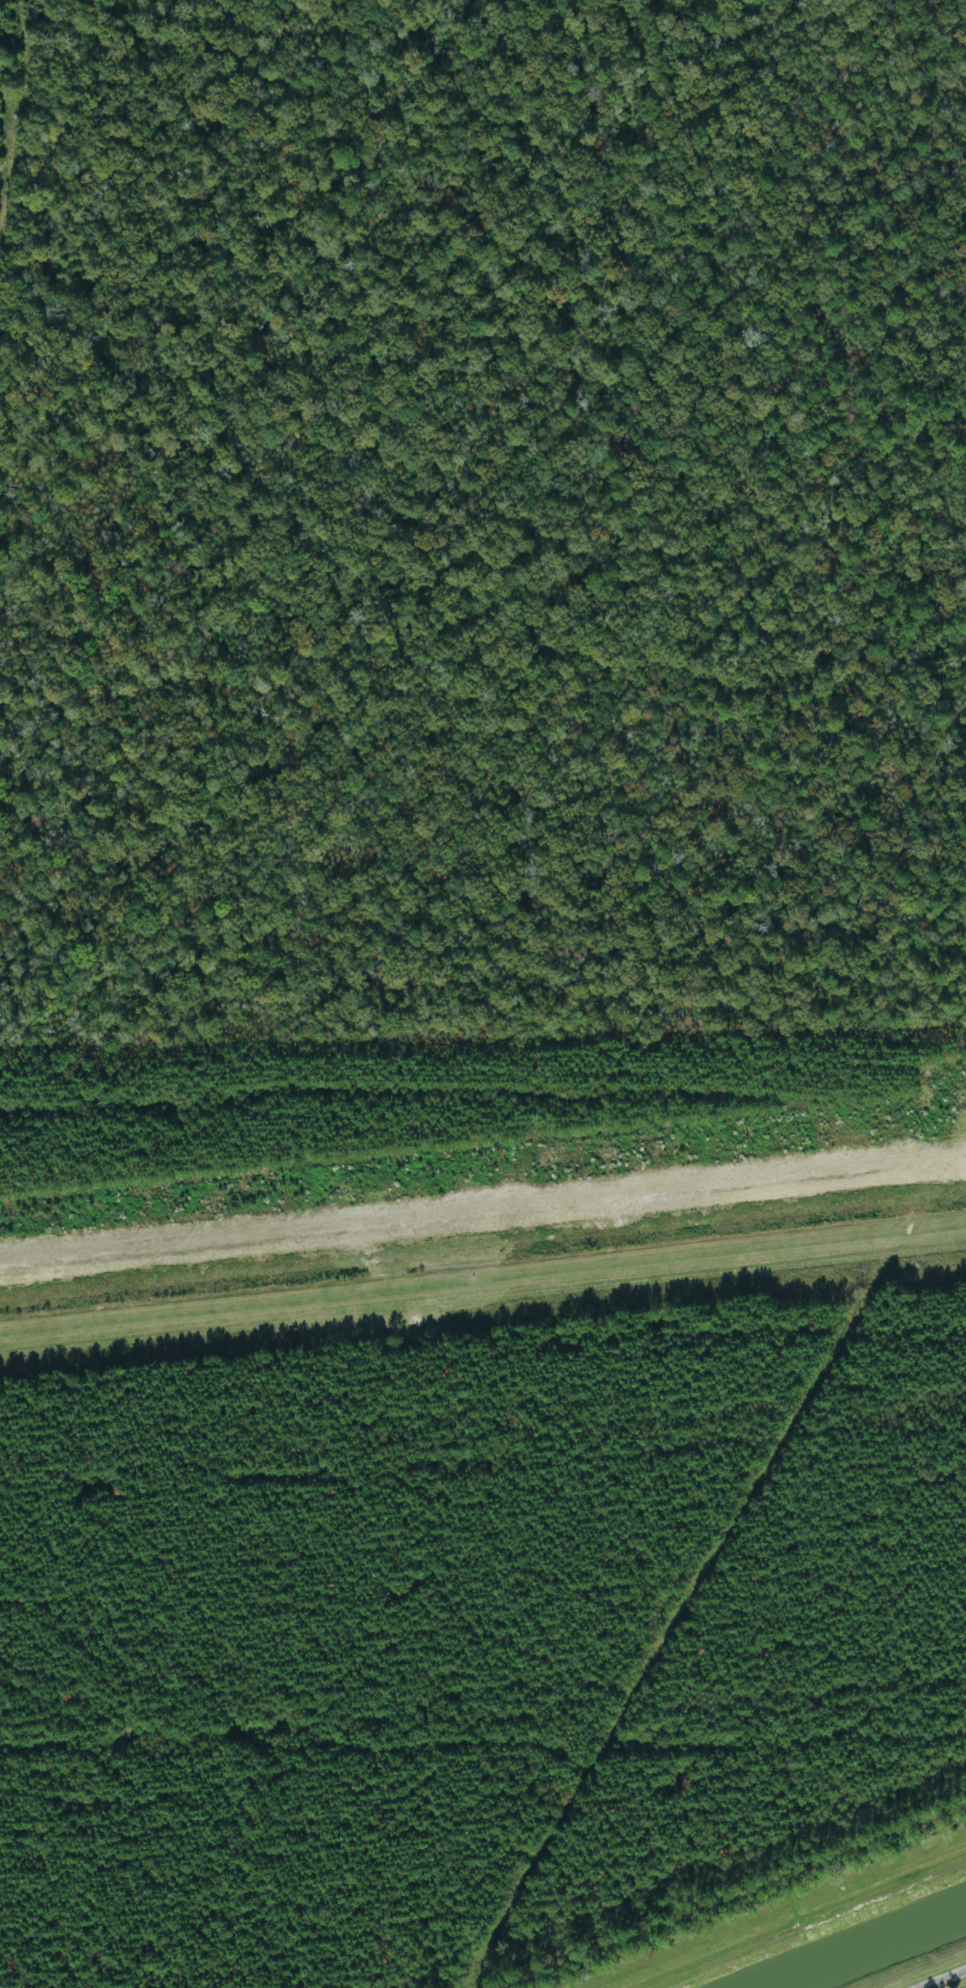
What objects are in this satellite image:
road: (944, 1979)

